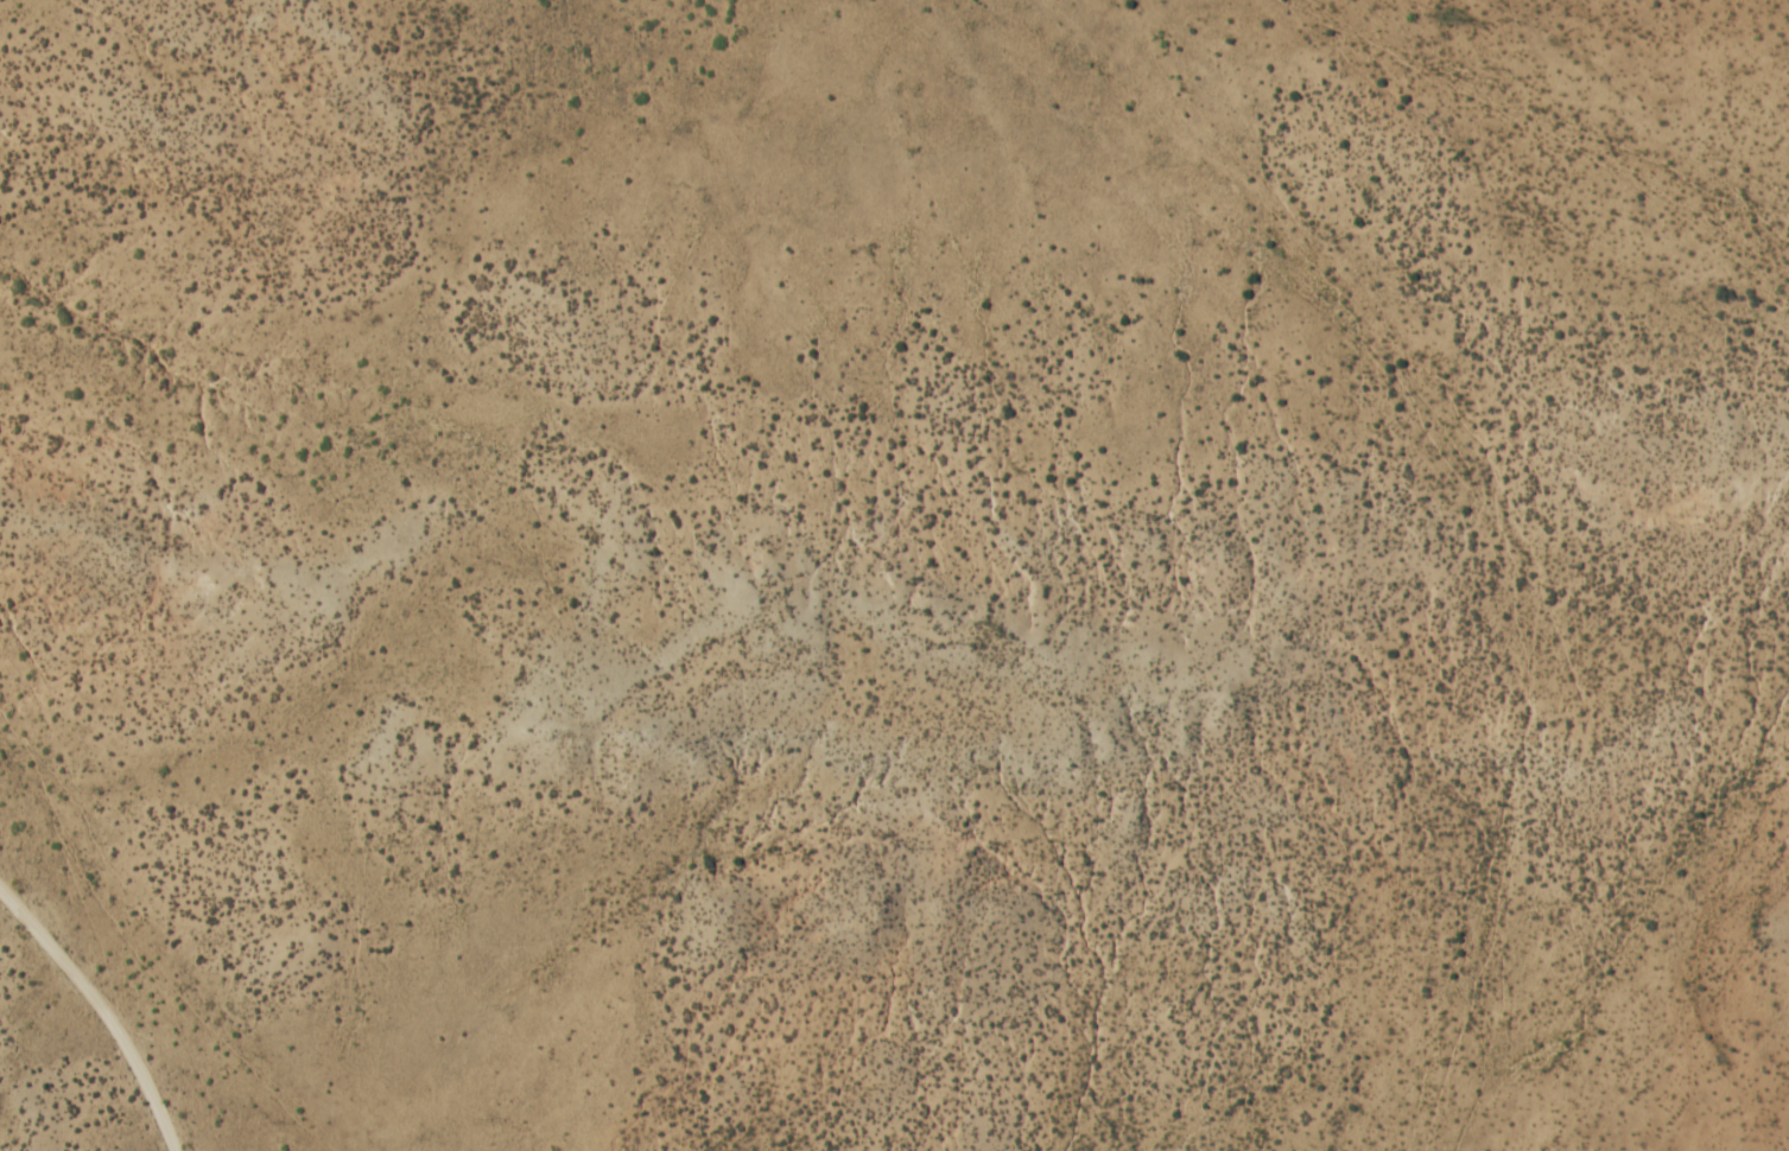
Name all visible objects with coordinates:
road: (107, 1006)

